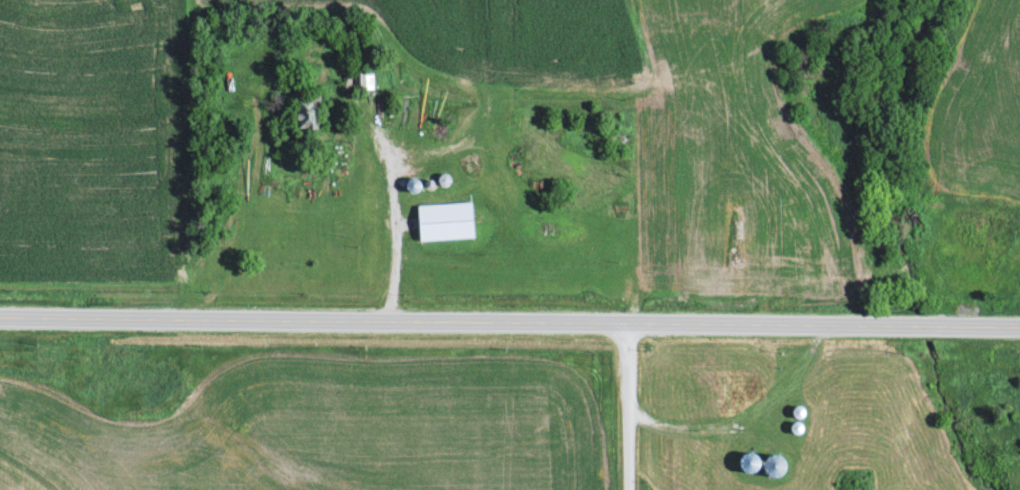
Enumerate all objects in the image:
building: (359, 80)
building: (446, 219)
road: (509, 321)
building: (702, 368)
road: (625, 406)
building: (692, 454)

